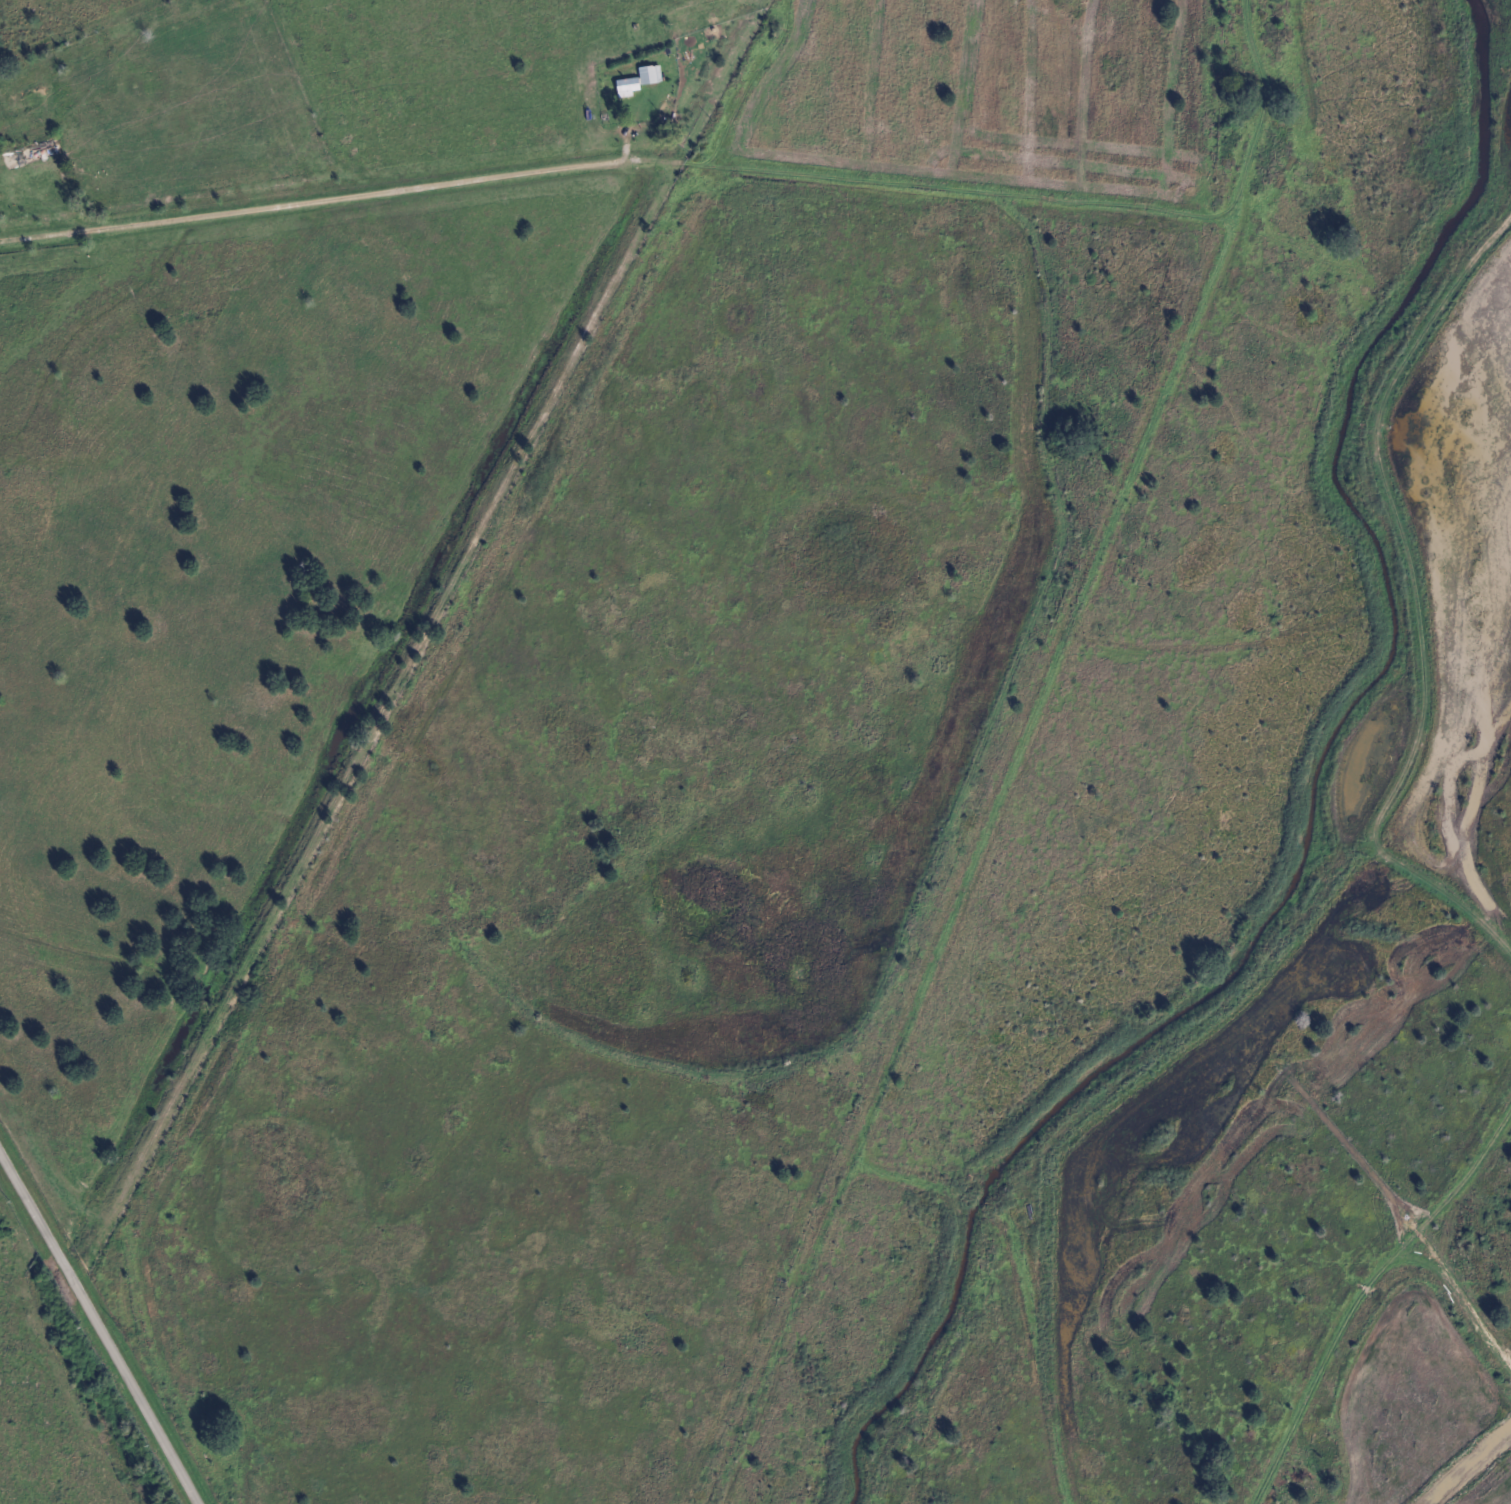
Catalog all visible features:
building: (639, 82)
road: (381, 190)
road: (438, 609)
road: (1455, 1190)
road: (1358, 1302)
road: (100, 1325)

